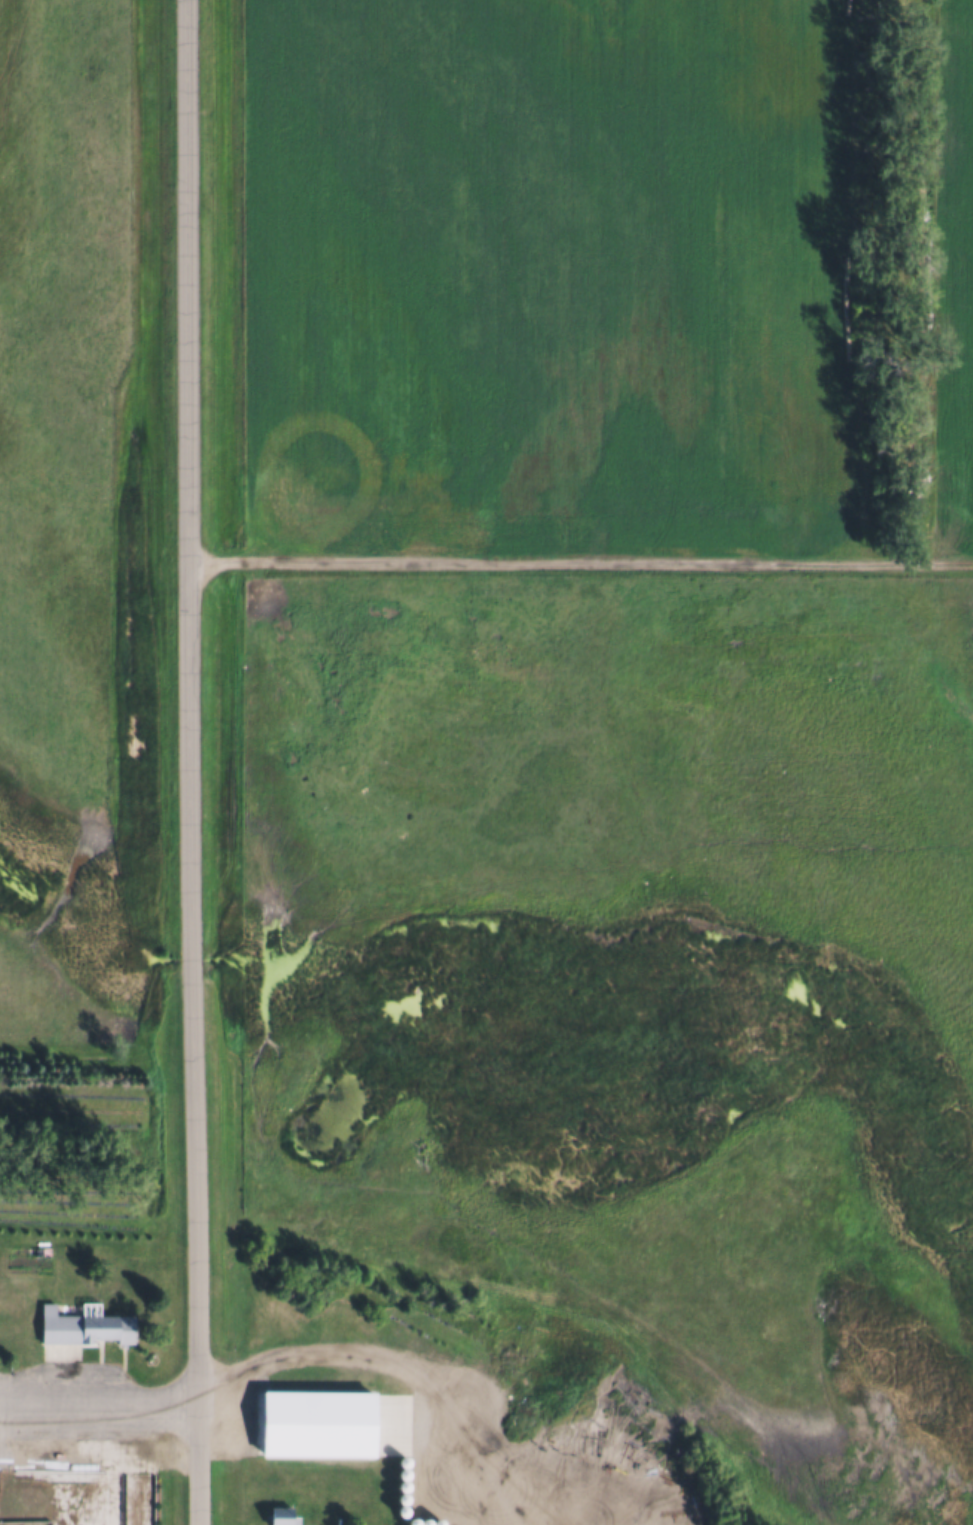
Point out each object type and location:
road: (578, 562)
road: (186, 762)
building: (86, 1327)
road: (381, 1377)
road: (98, 1399)
building: (306, 1401)
building: (141, 1499)
building: (284, 1518)

